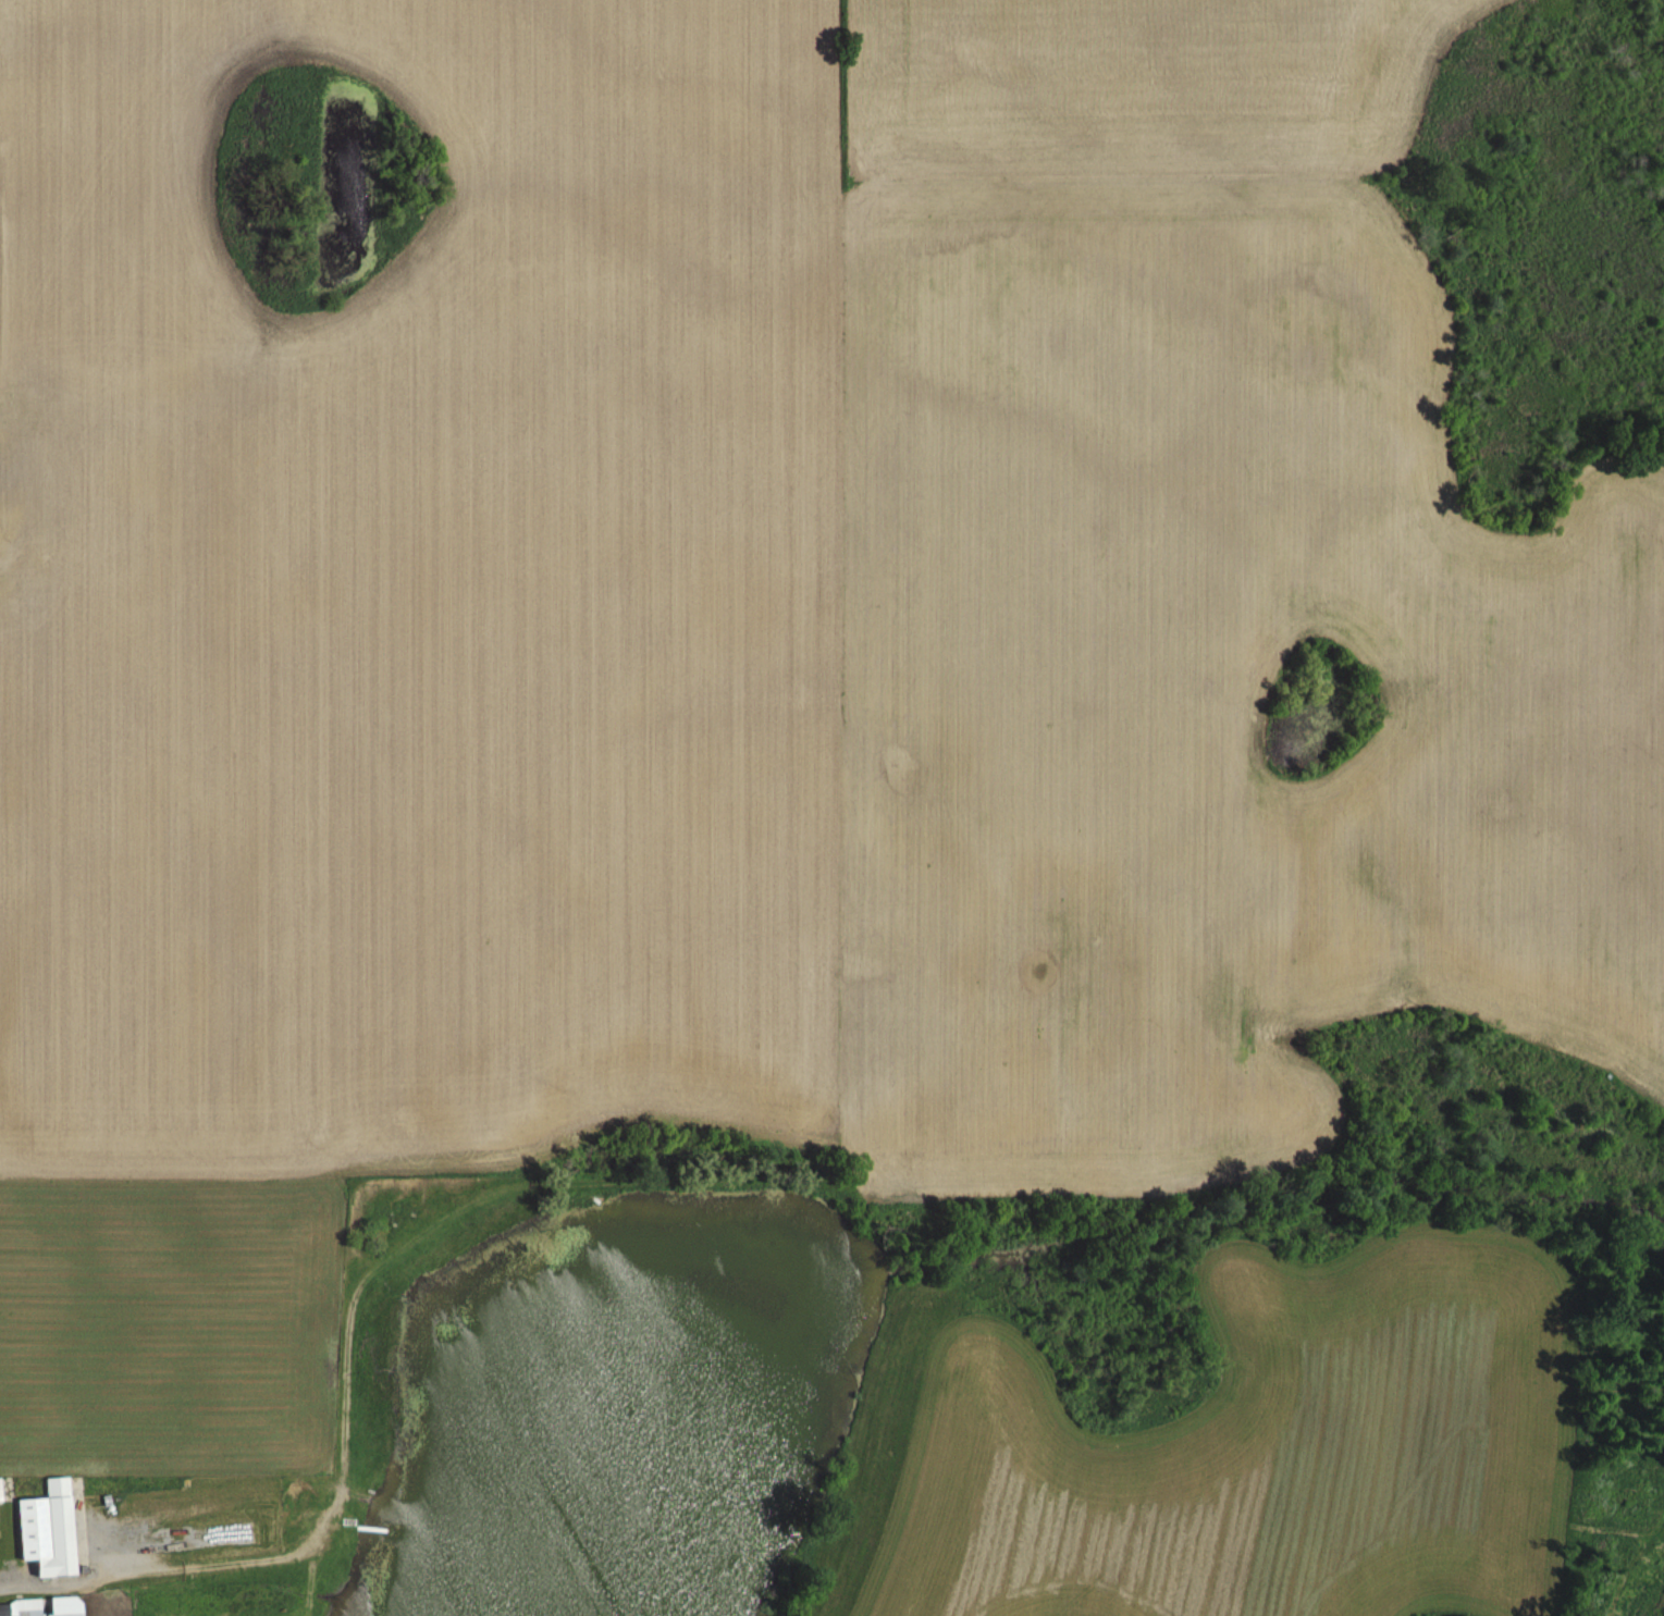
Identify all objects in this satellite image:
building: (1, 1490)
building: (50, 1529)
building: (67, 1606)
building: (21, 1608)

